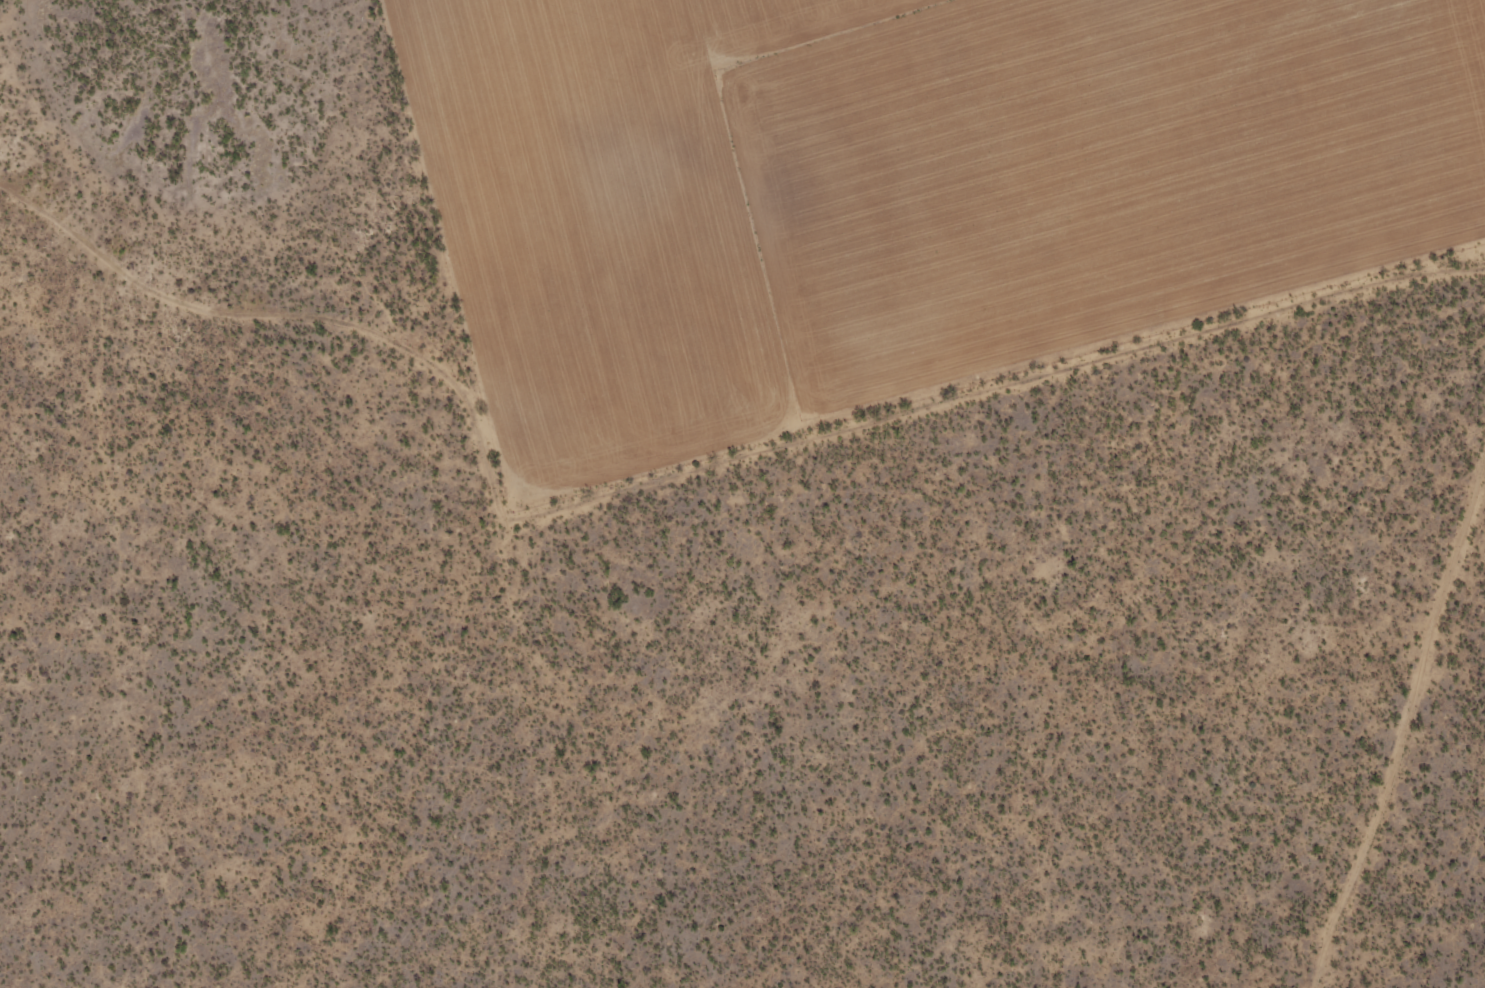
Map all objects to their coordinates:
road: (712, 441)
road: (1417, 784)

